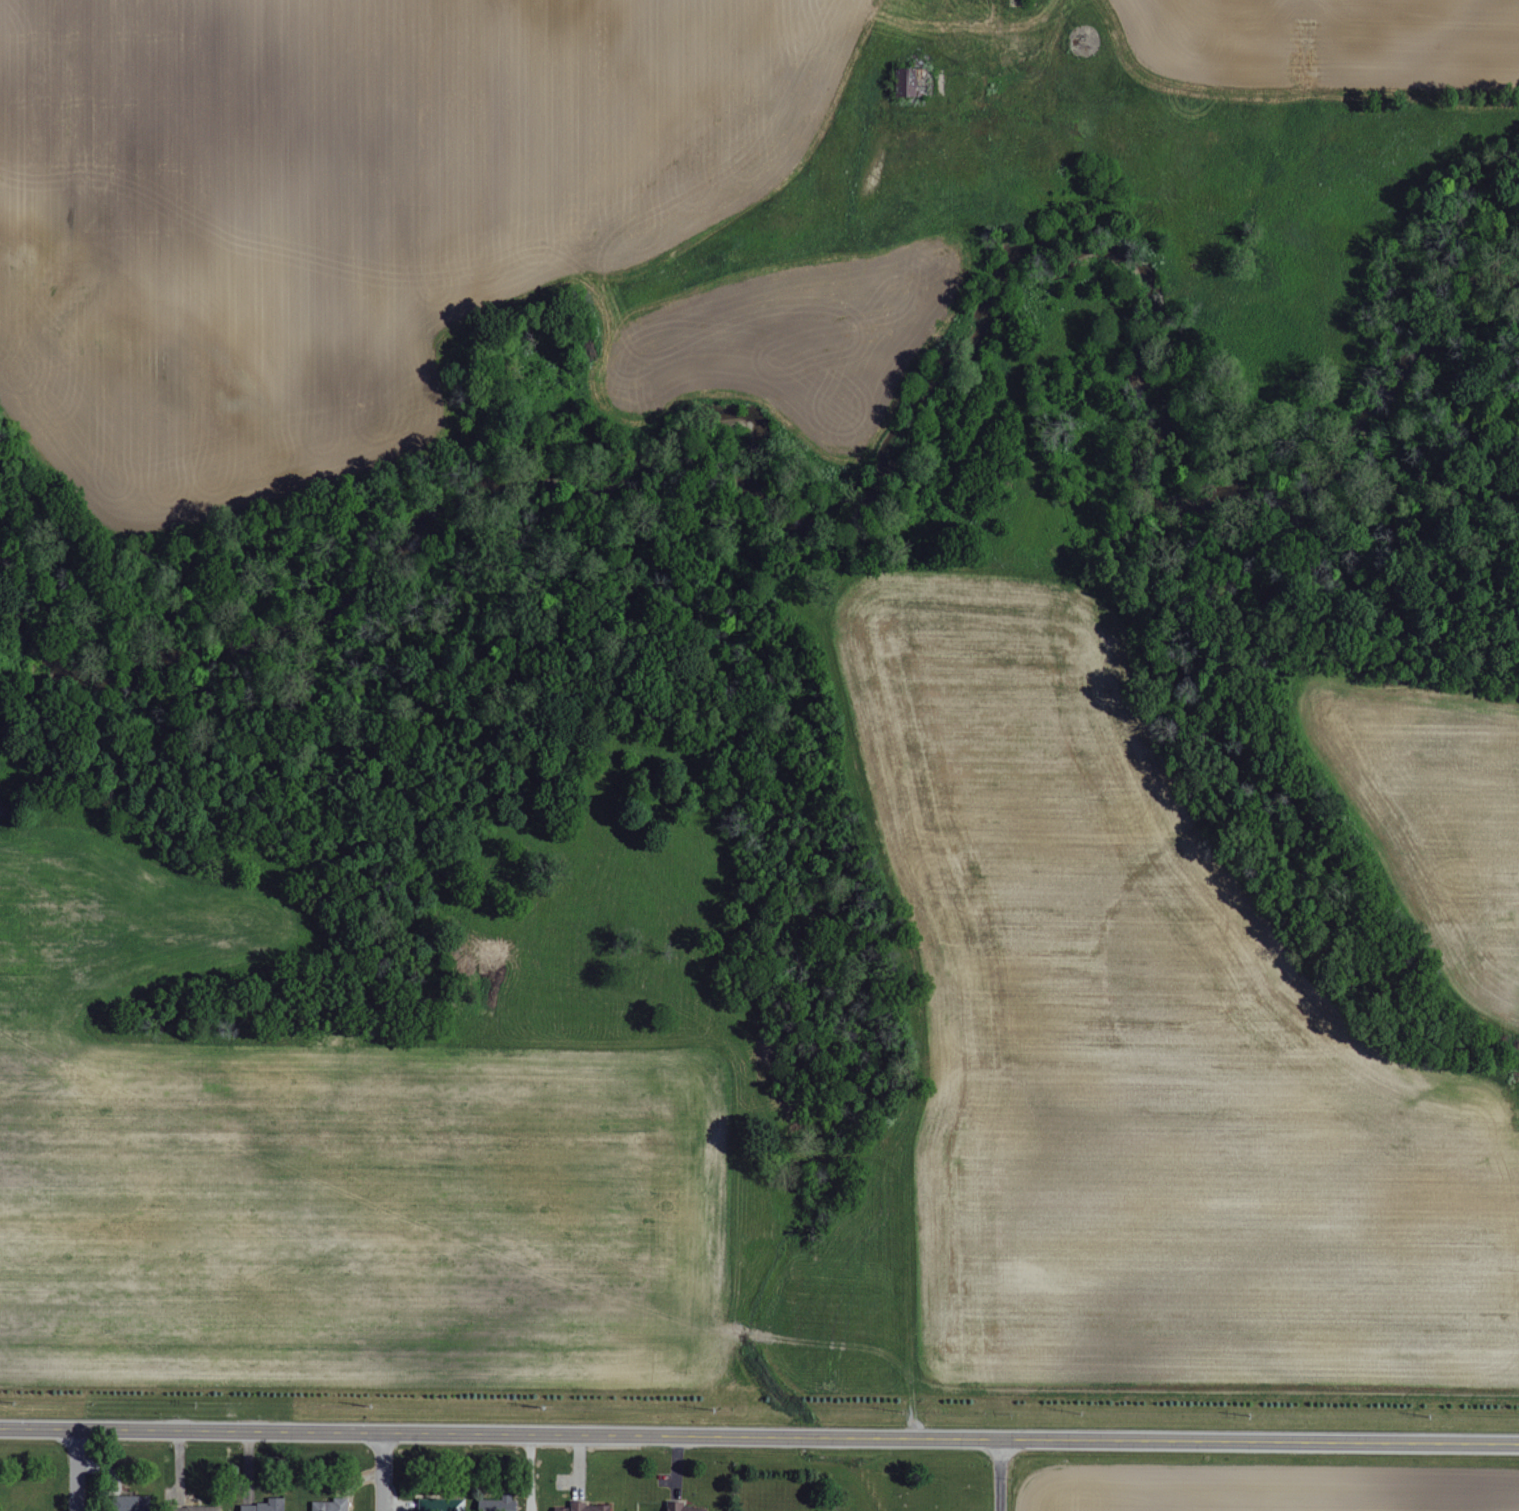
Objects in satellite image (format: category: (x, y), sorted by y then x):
road: (759, 1437)
road: (84, 1471)
road: (383, 1472)
road: (997, 1475)
building: (140, 1503)
building: (500, 1504)
building: (268, 1505)
building: (332, 1505)
building: (588, 1507)
building: (690, 1507)
building: (205, 1508)

